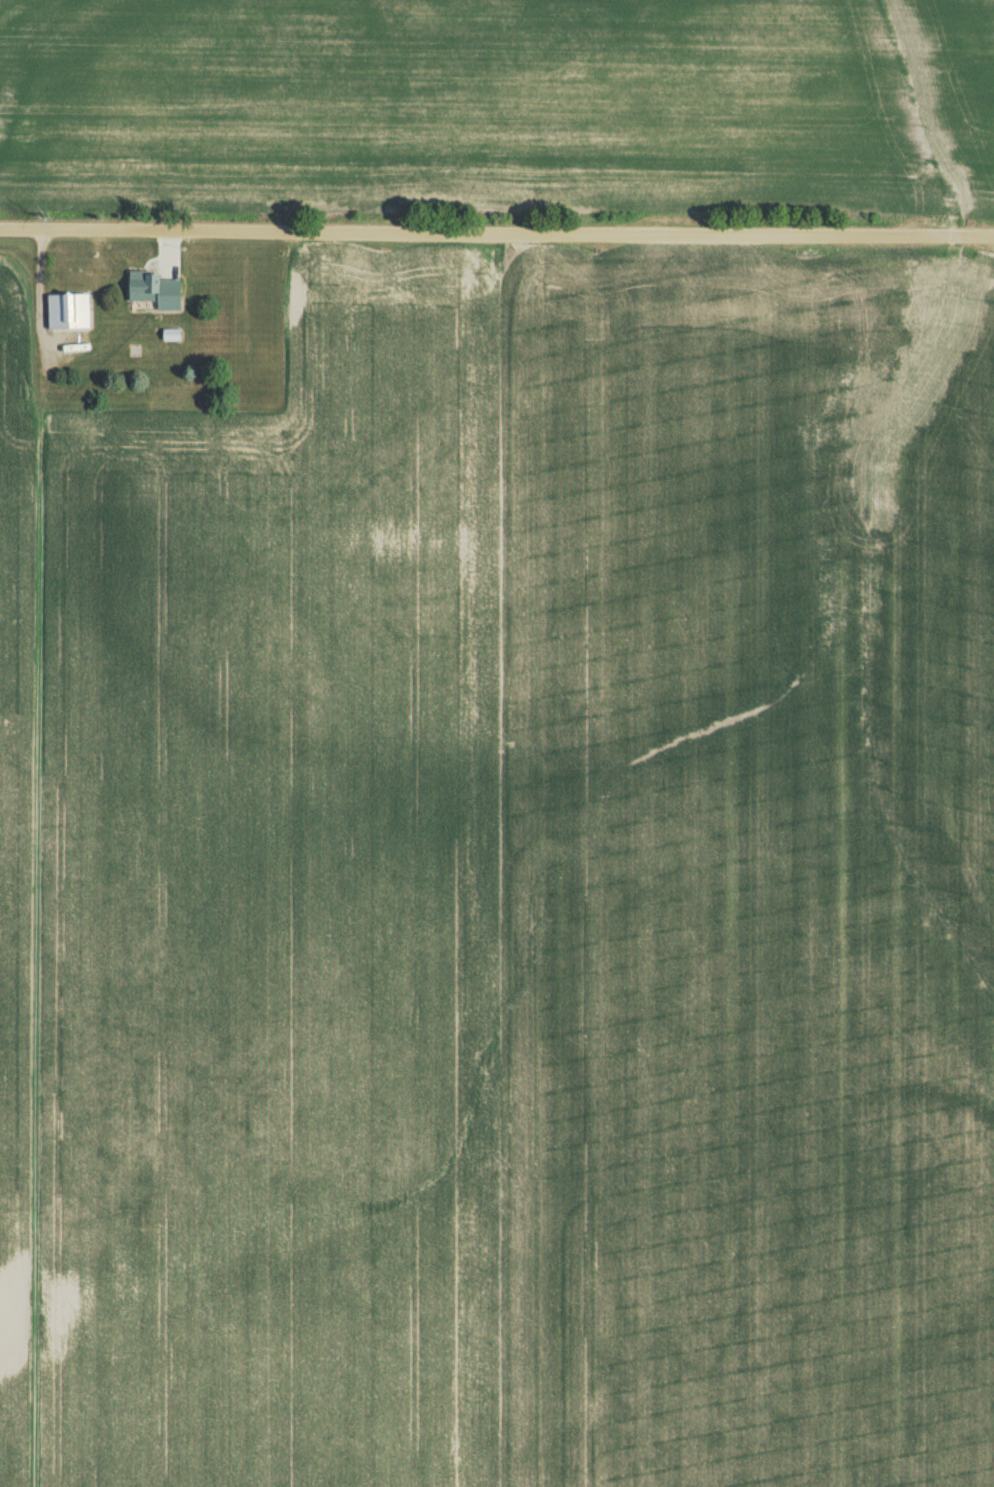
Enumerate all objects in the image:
road: (496, 231)
building: (160, 295)
building: (73, 316)

